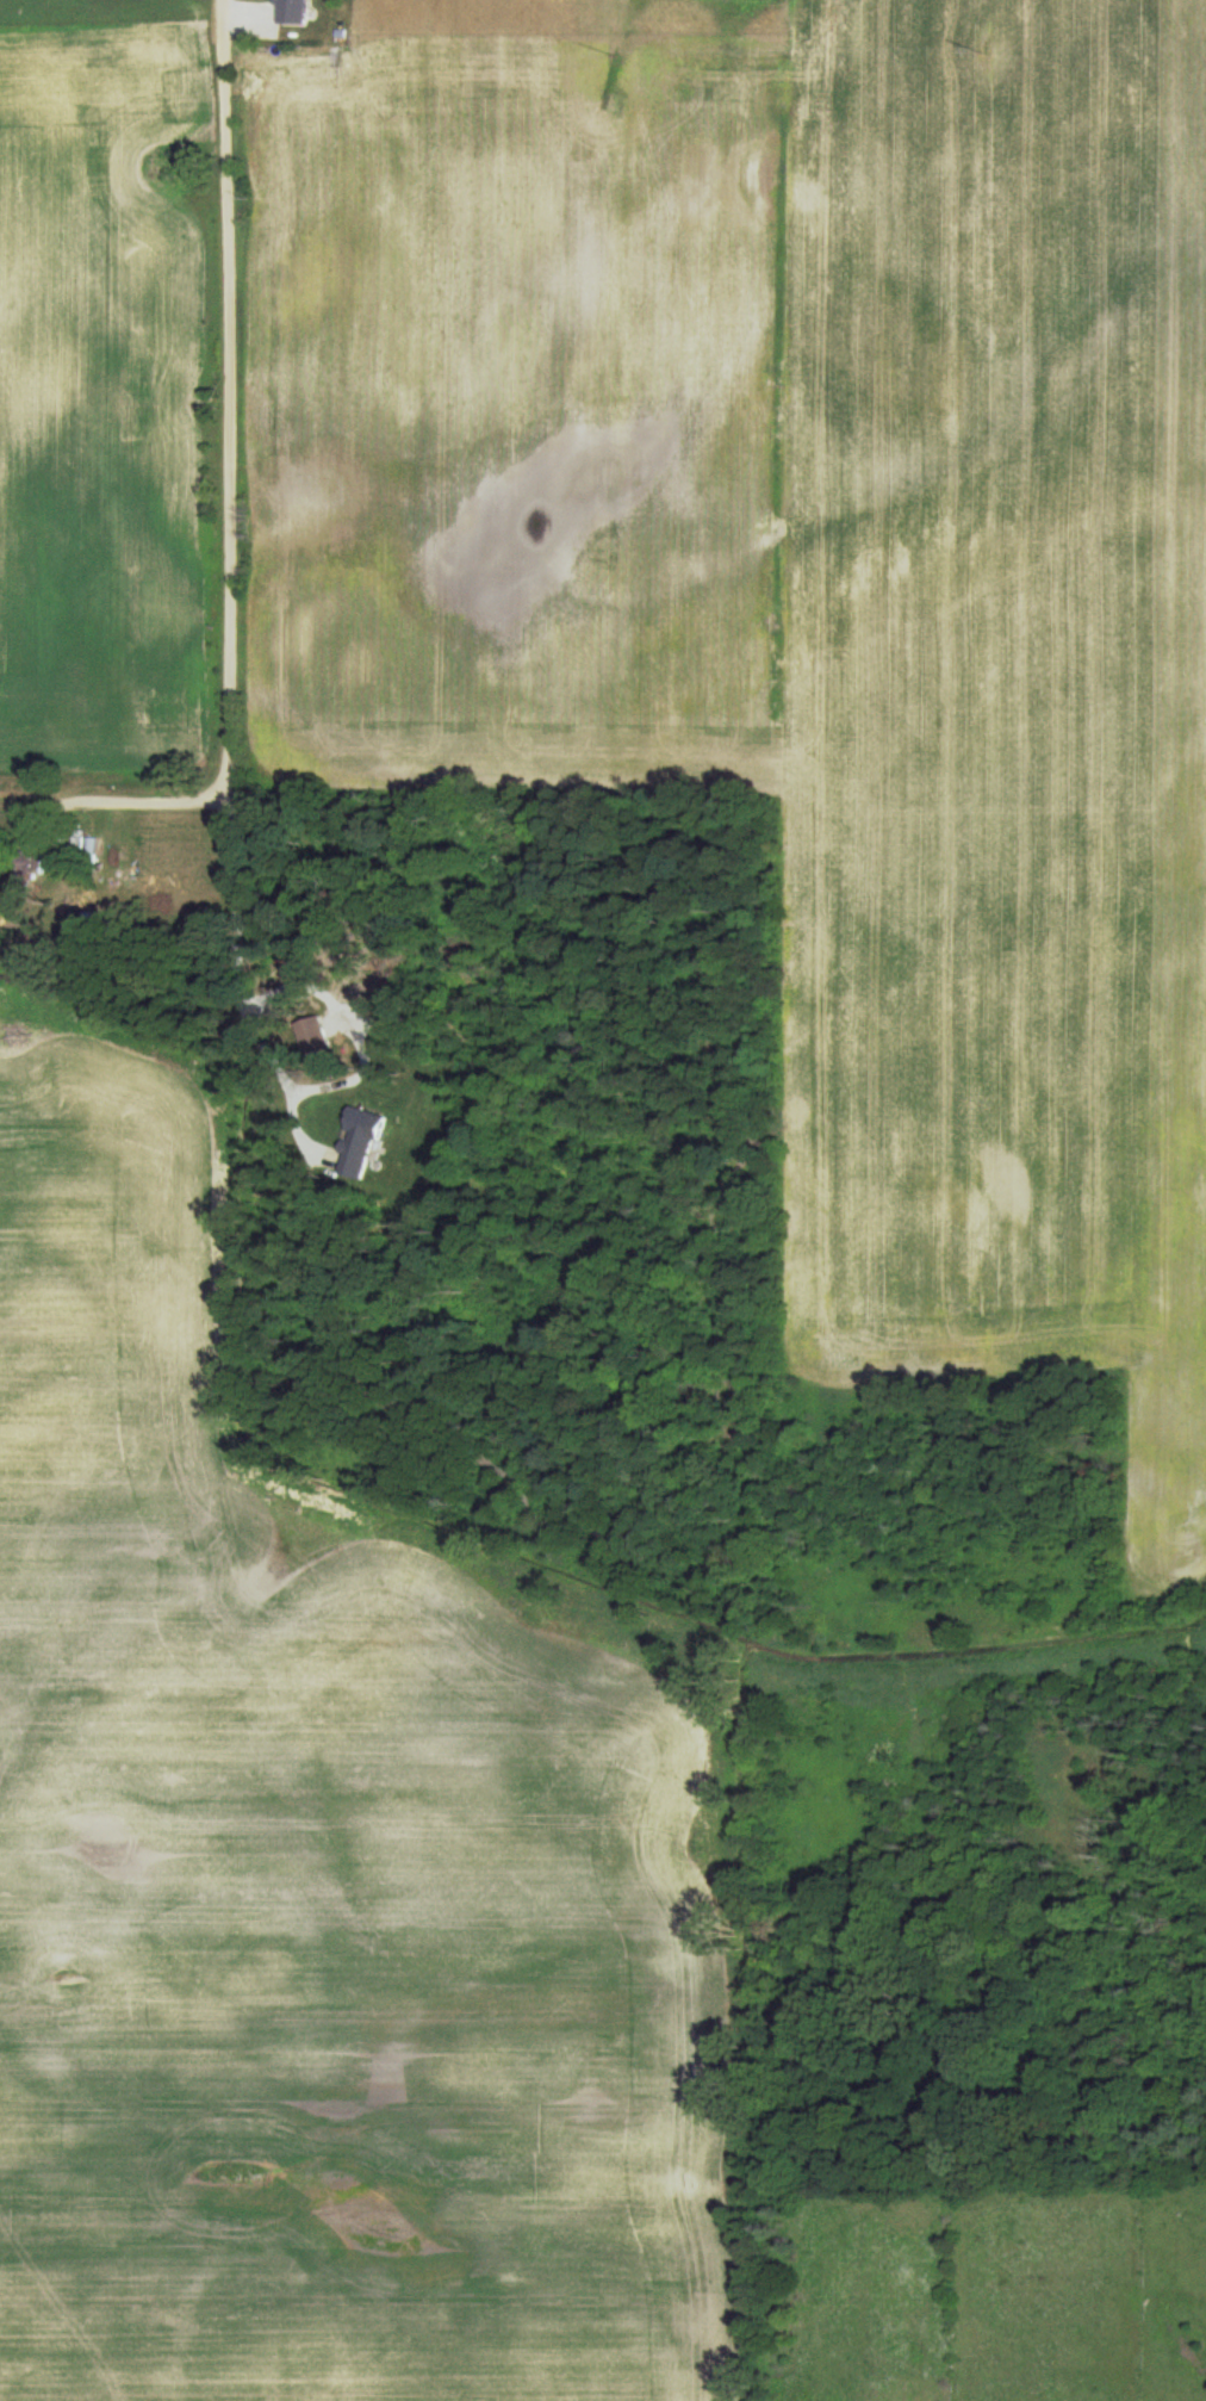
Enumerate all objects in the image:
building: (296, 12)
power tower: (984, 51)
power tower: (621, 55)
road: (225, 398)
building: (41, 860)
building: (363, 1142)

